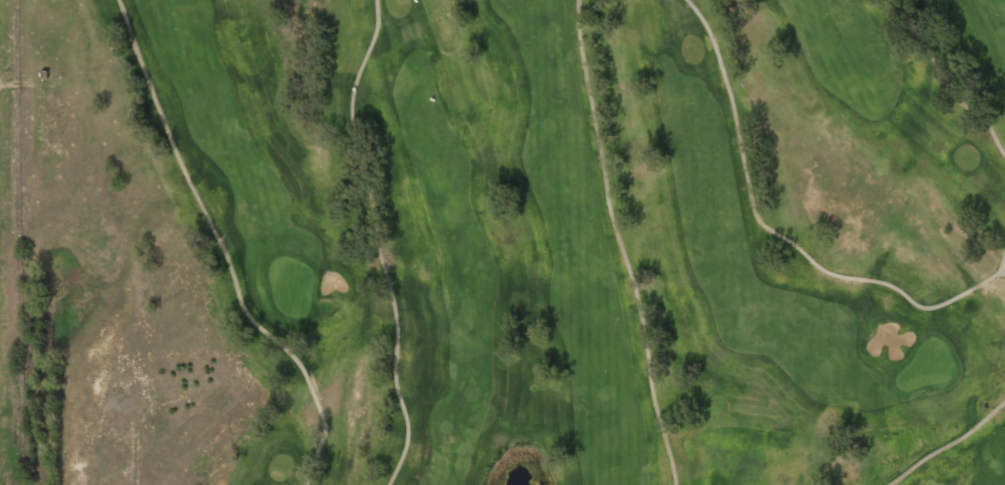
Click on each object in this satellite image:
road: (943, 84)
road: (777, 234)
park: (509, 242)
road: (376, 243)
road: (619, 244)
road: (222, 249)
road: (1003, 259)
road: (947, 444)

